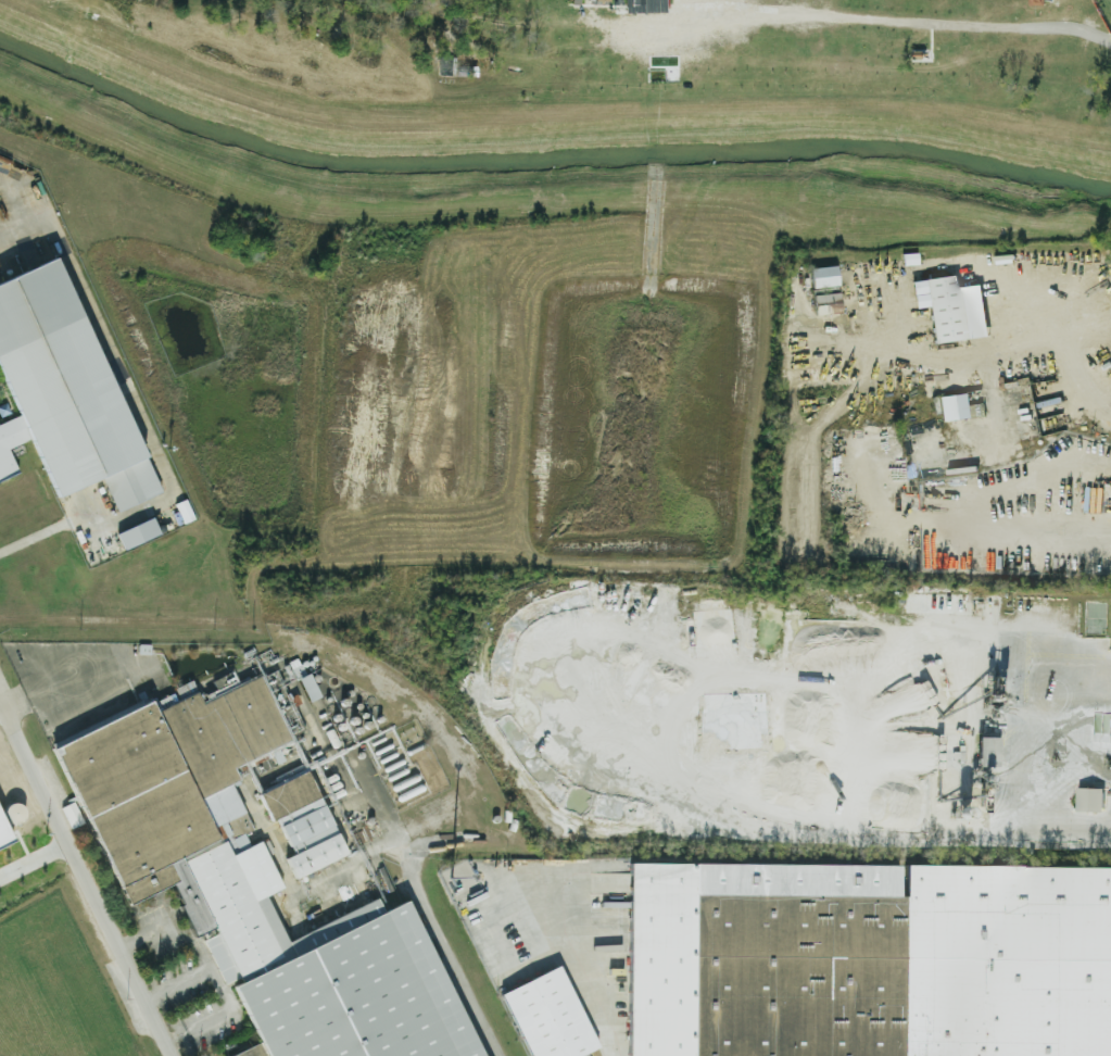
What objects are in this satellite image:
building: (598, 1)
building: (637, 7)
road: (910, 22)
road: (16, 97)
river: (546, 139)
building: (818, 277)
building: (820, 303)
building: (942, 310)
road: (804, 317)
building: (66, 393)
building: (949, 407)
road: (141, 414)
building: (140, 533)
road: (123, 658)
building: (303, 687)
road: (17, 702)
road: (0, 708)
road: (1035, 727)
building: (981, 751)
building: (1085, 799)
building: (7, 837)
road: (435, 840)
road: (842, 841)
building: (305, 843)
road: (33, 857)
road: (84, 881)
building: (247, 884)
road: (142, 934)
road: (444, 950)
road: (582, 963)
building: (907, 968)
building: (540, 1017)

